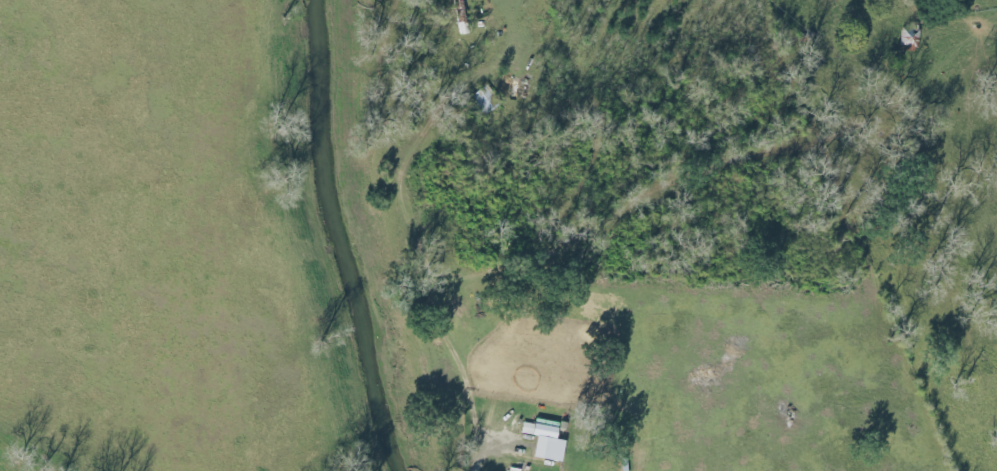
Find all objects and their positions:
building: (910, 39)
building: (483, 103)
river: (345, 237)
road: (420, 238)
building: (548, 445)

